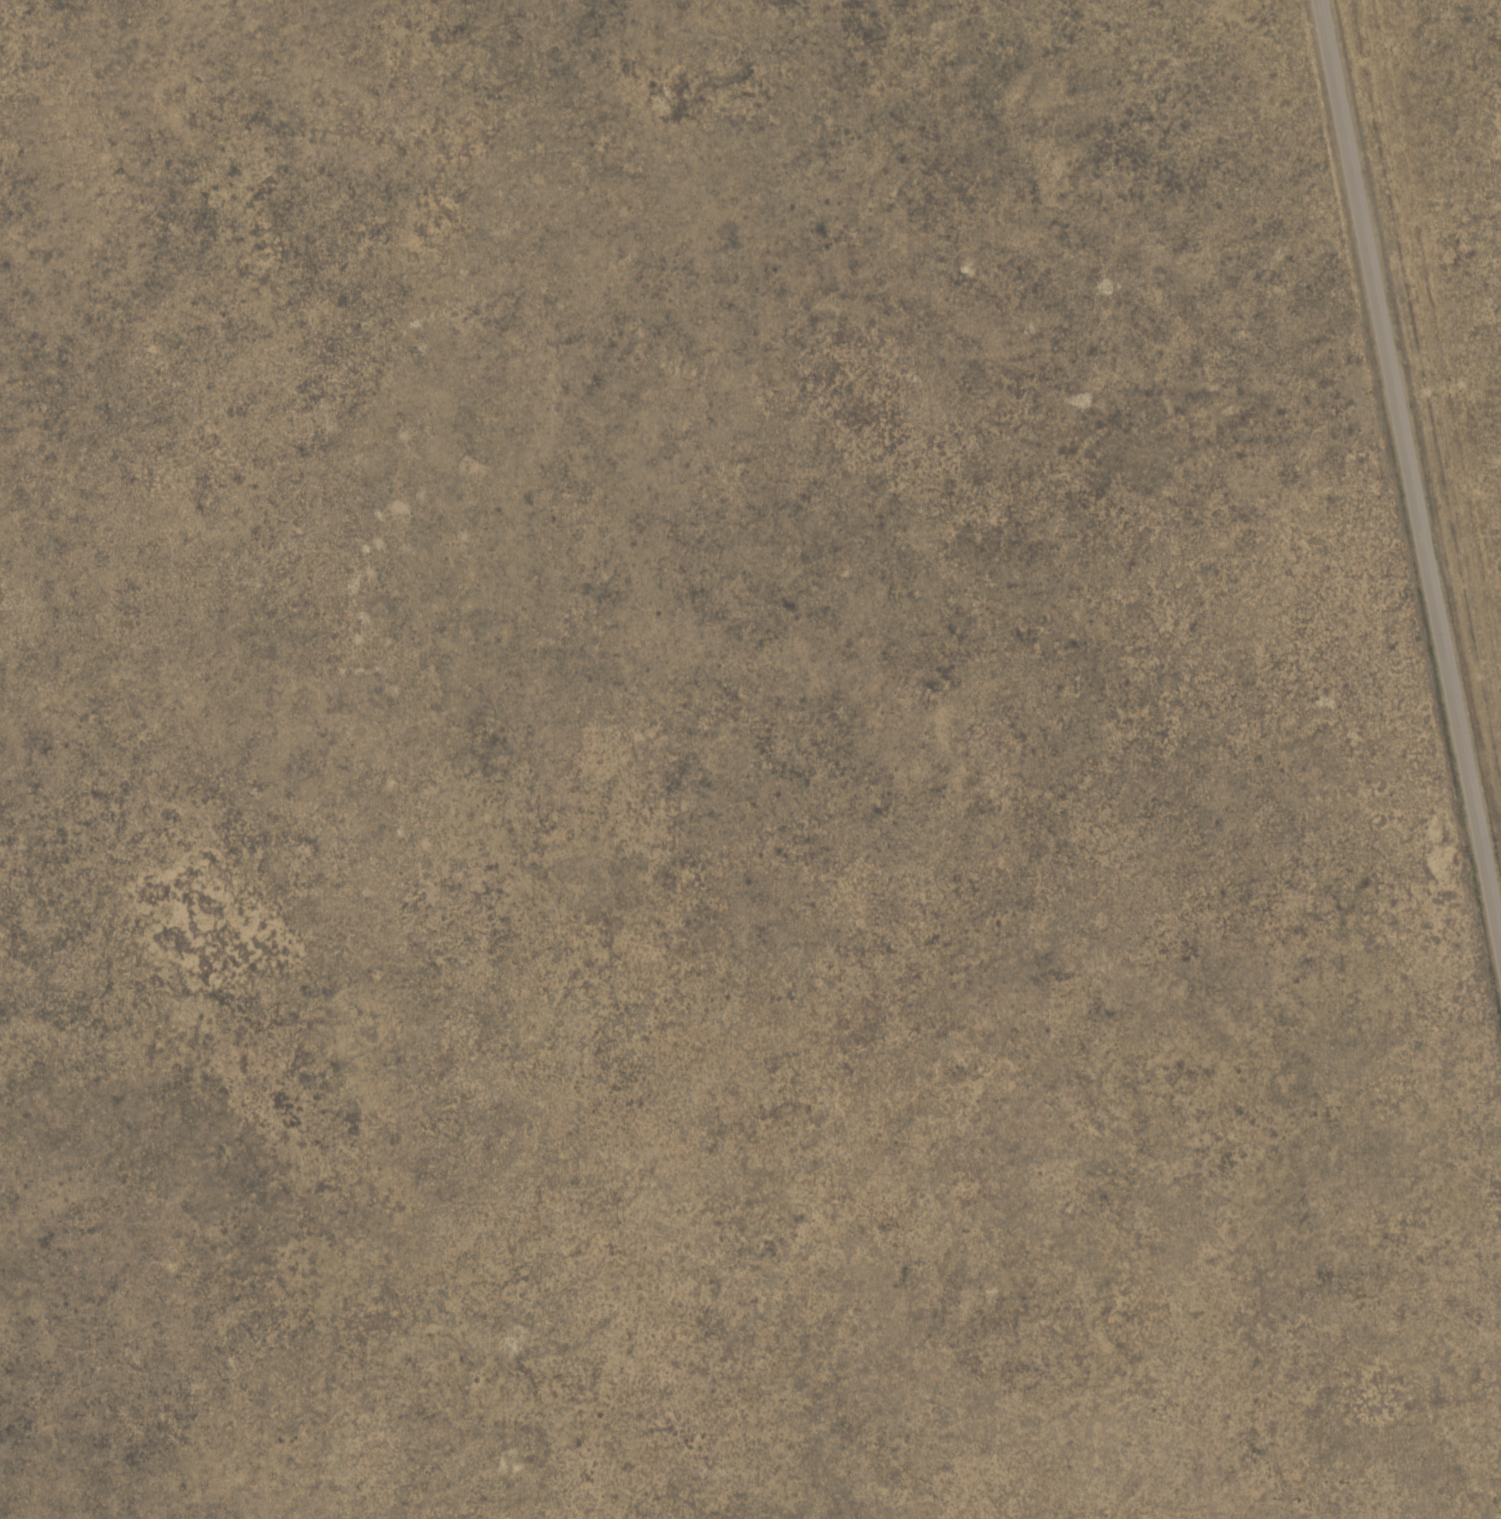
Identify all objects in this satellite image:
road: (1412, 477)

